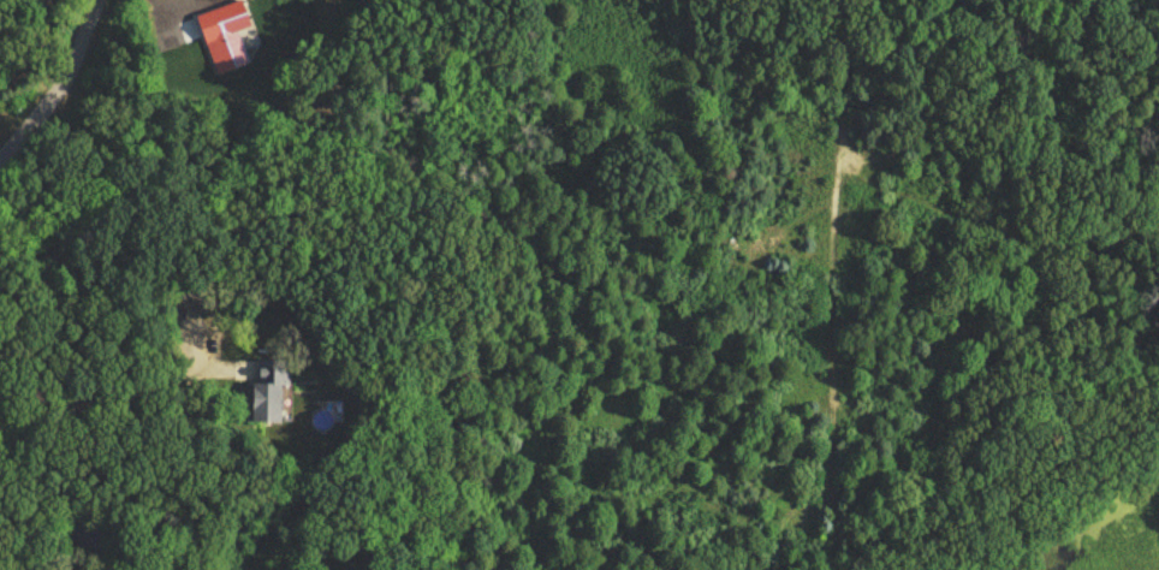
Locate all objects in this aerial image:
road: (28, 43)
road: (24, 76)
road: (49, 76)
building: (268, 392)
road: (118, 396)

